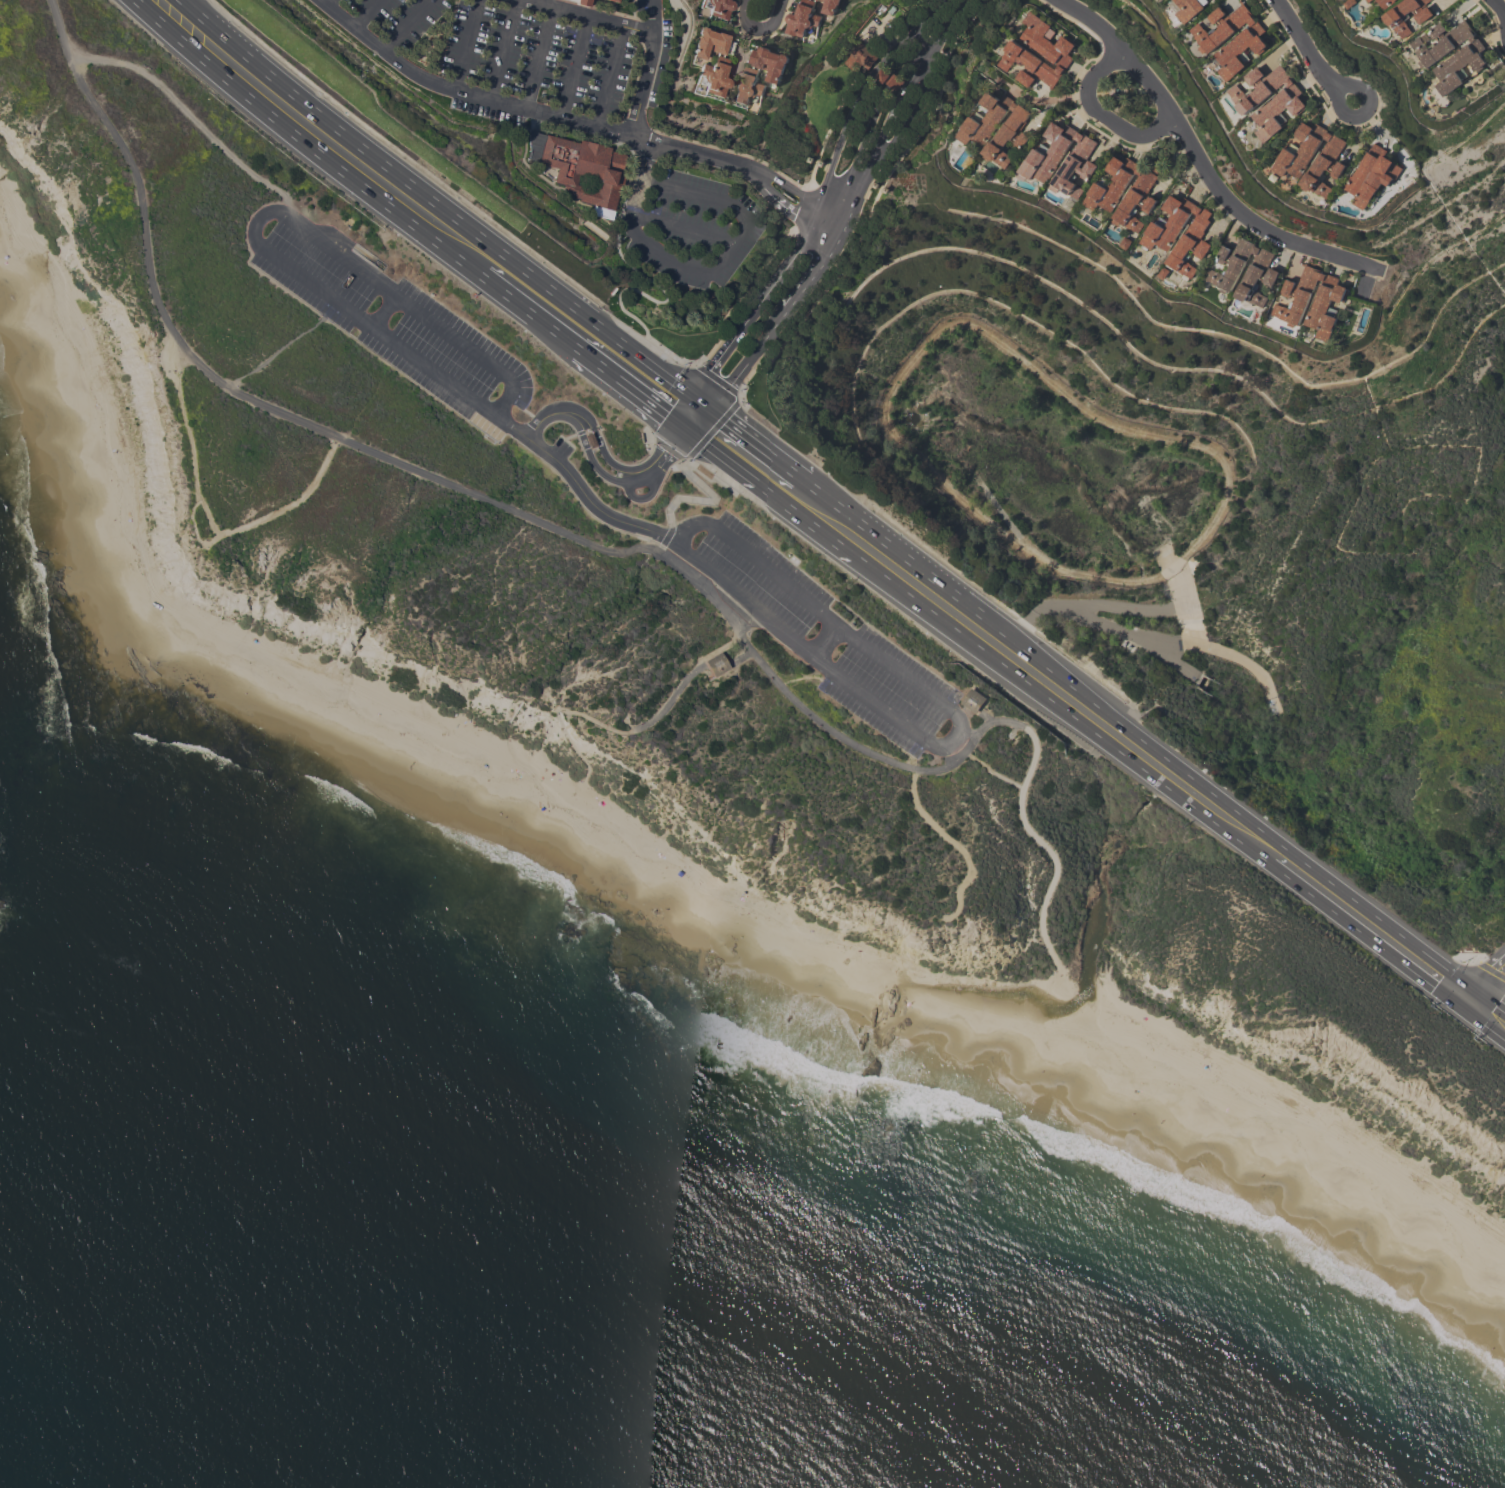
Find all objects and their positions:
building: (612, 1)
building: (1369, 1)
road: (326, 2)
building: (582, 3)
building: (1386, 3)
building: (831, 6)
building: (716, 8)
building: (1188, 9)
road: (195, 11)
road: (199, 11)
road: (365, 12)
road: (587, 17)
building: (803, 19)
building: (1395, 20)
road: (406, 25)
road: (757, 30)
building: (1248, 39)
building: (710, 43)
road: (925, 43)
road: (465, 45)
road: (1306, 46)
building: (1054, 49)
road: (503, 50)
parking lot: (504, 56)
building: (860, 57)
building: (1467, 57)
road: (537, 58)
building: (770, 62)
road: (647, 66)
road: (573, 67)
road: (217, 69)
road: (608, 75)
building: (712, 77)
building: (890, 78)
building: (749, 88)
building: (1285, 102)
road: (521, 108)
road: (1362, 112)
road: (1108, 113)
road: (190, 116)
building: (976, 133)
road: (1199, 160)
building: (1043, 161)
building: (1292, 162)
building: (582, 173)
building: (1371, 175)
building: (1111, 185)
road: (826, 186)
road: (794, 191)
road: (853, 196)
building: (1136, 200)
road: (383, 203)
road: (784, 207)
road: (454, 217)
parking lot: (691, 225)
road: (751, 227)
building: (1161, 235)
building: (1230, 265)
road: (678, 266)
building: (1257, 277)
road: (314, 286)
road: (500, 292)
building: (1321, 302)
road: (382, 310)
parking lot: (390, 317)
road: (569, 344)
road: (282, 346)
road: (644, 401)
road: (694, 403)
road: (704, 409)
road: (537, 423)
road: (716, 423)
traffic signals: (681, 429)
road: (596, 438)
building: (590, 440)
road: (755, 444)
road: (667, 445)
road: (590, 461)
road: (649, 465)
road: (732, 465)
road: (422, 475)
road: (645, 496)
road: (706, 501)
road: (207, 517)
road: (195, 530)
road: (679, 530)
road: (823, 533)
road: (666, 536)
road: (893, 548)
road: (658, 550)
road: (1125, 608)
road: (831, 620)
road: (1102, 623)
parking lot: (824, 636)
road: (825, 639)
road: (1164, 641)
road: (722, 648)
road: (982, 650)
road: (810, 651)
road: (1233, 656)
building: (716, 665)
road: (803, 677)
road: (826, 679)
road: (671, 697)
building: (974, 700)
road: (990, 723)
road: (968, 732)
road: (956, 739)
road: (917, 745)
road: (912, 760)
road: (992, 772)
road: (1184, 799)
road: (1227, 804)
road: (956, 845)
road: (1047, 848)
road: (1329, 905)
traffic signals: (1495, 969)
road: (1489, 974)
road: (1425, 978)
traffic signals: (1435, 986)
road: (1469, 998)
road: (1490, 1001)
traffic signals: (1496, 1006)
road: (1483, 1022)

